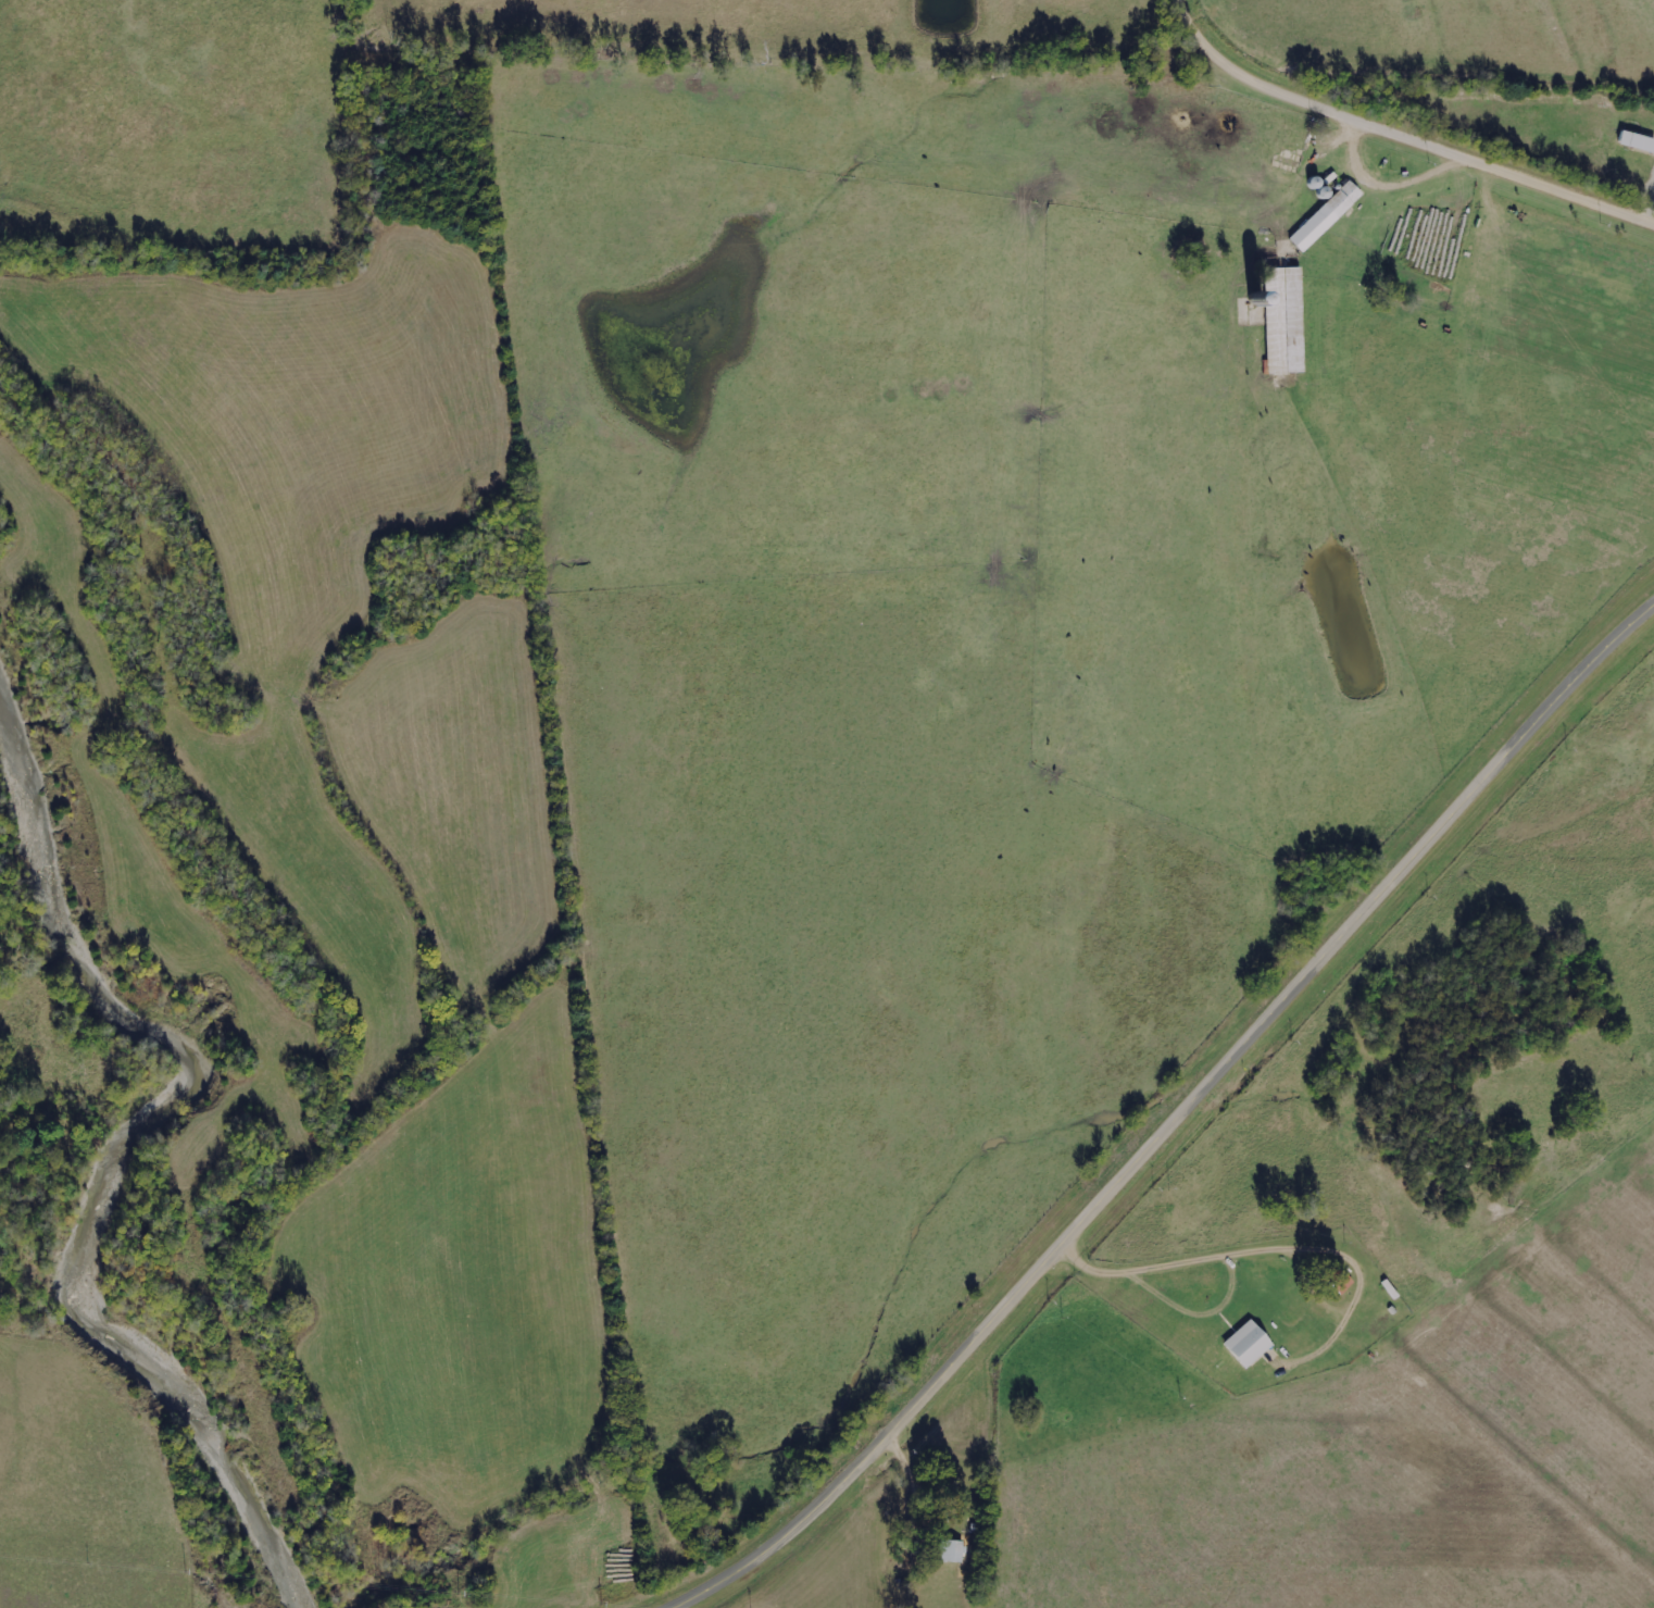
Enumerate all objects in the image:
road: (1414, 114)
building: (1636, 141)
building: (1325, 216)
building: (1283, 321)
road: (1174, 1117)
building: (1342, 1283)
building: (1246, 1344)
building: (951, 1550)

